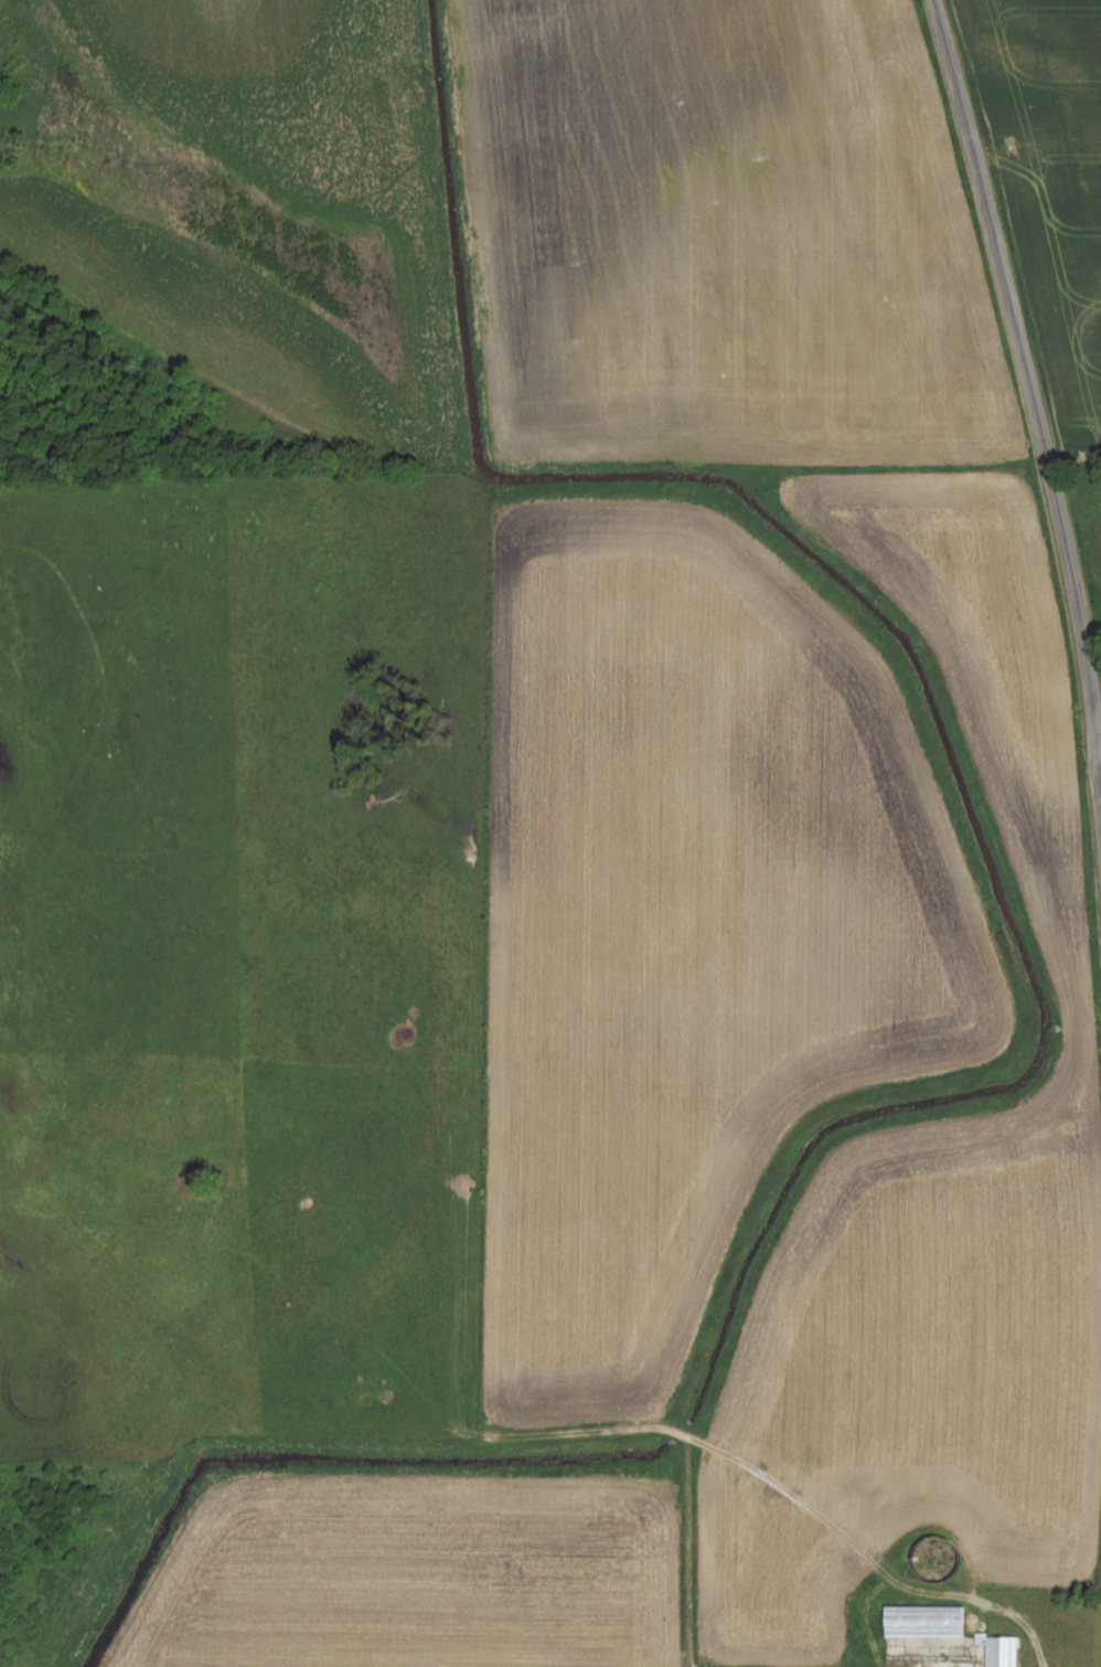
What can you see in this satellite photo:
road: (1036, 424)
road: (1100, 841)
building: (921, 1621)
building: (997, 1649)

